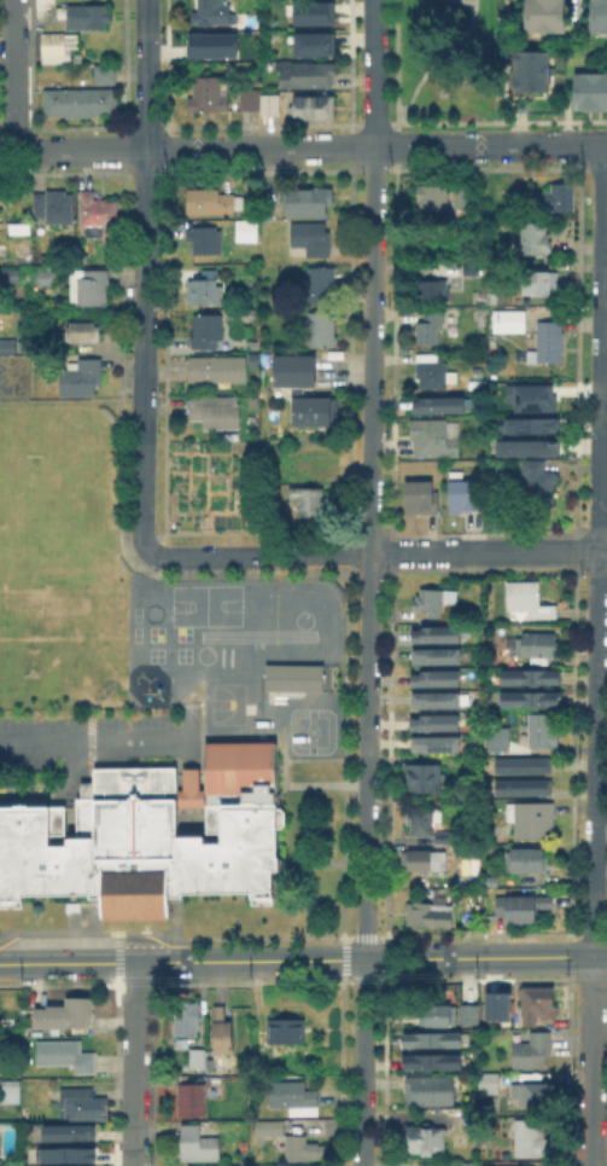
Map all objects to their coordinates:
building: (311, 11)
building: (216, 13)
building: (86, 14)
building: (541, 14)
building: (597, 14)
building: (311, 42)
building: (209, 43)
building: (58, 46)
building: (527, 69)
building: (101, 71)
building: (303, 71)
road: (13, 75)
building: (589, 88)
building: (210, 95)
building: (76, 99)
building: (250, 101)
building: (272, 105)
building: (313, 108)
road: (303, 146)
building: (439, 196)
building: (558, 199)
building: (211, 202)
building: (309, 202)
building: (54, 208)
building: (100, 216)
building: (247, 232)
building: (310, 240)
building: (539, 240)
building: (208, 242)
building: (472, 269)
road: (145, 274)
building: (11, 277)
building: (43, 282)
building: (322, 285)
building: (538, 285)
building: (89, 289)
building: (206, 290)
building: (433, 292)
building: (506, 319)
building: (431, 329)
building: (322, 330)
building: (453, 331)
building: (209, 332)
building: (83, 333)
building: (544, 342)
building: (8, 347)
building: (221, 370)
building: (478, 372)
building: (297, 373)
building: (433, 375)
building: (82, 378)
building: (478, 384)
building: (527, 395)
building: (442, 406)
building: (217, 413)
building: (315, 416)
building: (529, 424)
building: (436, 441)
building: (525, 446)
building: (539, 483)
building: (251, 487)
building: (466, 498)
building: (421, 500)
building: (311, 503)
building: (252, 520)
road: (374, 551)
park: (53, 564)
road: (159, 568)
road: (369, 582)
building: (530, 599)
park: (204, 604)
building: (437, 604)
park: (152, 611)
park: (135, 613)
park: (302, 619)
park: (135, 632)
park: (154, 632)
park: (182, 632)
track: (257, 634)
building: (439, 637)
building: (538, 646)
park: (154, 654)
park: (182, 654)
park: (204, 654)
road: (596, 654)
building: (440, 659)
building: (491, 661)
building: (529, 675)
building: (291, 677)
building: (439, 681)
building: (527, 698)
park: (227, 702)
building: (440, 702)
road: (202, 707)
park: (247, 707)
building: (439, 725)
road: (189, 732)
building: (544, 732)
parking lot: (45, 733)
building: (495, 737)
road: (94, 743)
building: (438, 746)
road: (281, 756)
road: (284, 759)
building: (524, 767)
building: (428, 781)
road: (56, 789)
building: (524, 789)
building: (424, 822)
building: (532, 824)
building: (147, 835)
building: (448, 839)
building: (430, 862)
building: (530, 863)
building: (524, 910)
building: (431, 917)
road: (397, 959)
road: (94, 963)
building: (495, 1005)
building: (541, 1007)
building: (60, 1013)
building: (467, 1013)
building: (188, 1020)
building: (438, 1020)
building: (224, 1034)
building: (285, 1036)
building: (432, 1039)
building: (532, 1051)
building: (66, 1056)
building: (199, 1060)
building: (431, 1062)
road: (135, 1065)
building: (490, 1084)
building: (10, 1089)
building: (433, 1091)
building: (294, 1097)
building: (533, 1097)
building: (197, 1100)
building: (84, 1106)
building: (471, 1120)
building: (66, 1131)
building: (474, 1137)
building: (536, 1138)
building: (290, 1142)
building: (427, 1143)
building: (199, 1145)
building: (65, 1153)
building: (229, 1165)
building: (297, 1165)
building: (468, 1165)
building: (507, 1165)

